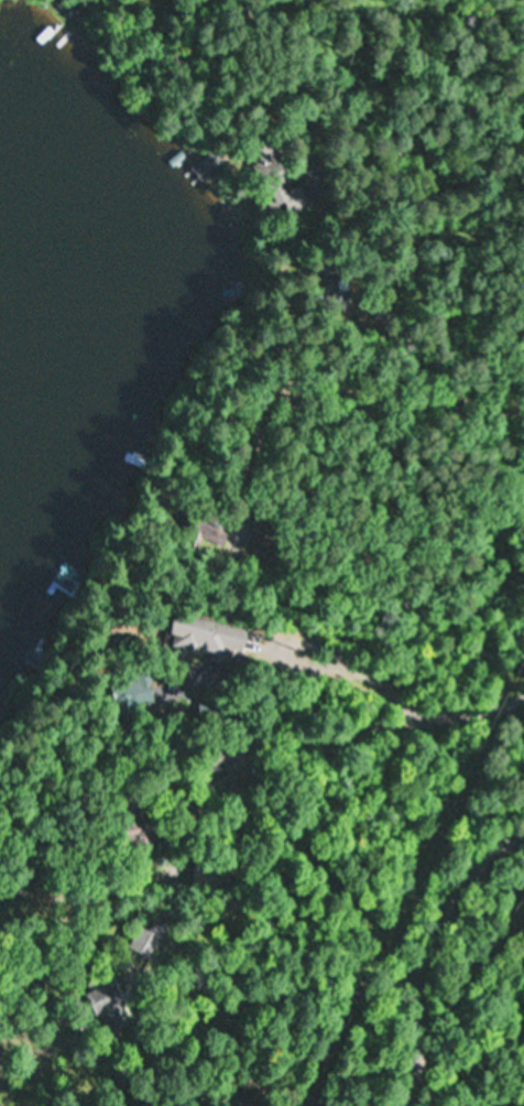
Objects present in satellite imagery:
building: (275, 171)
building: (331, 284)
building: (214, 531)
building: (254, 541)
road: (221, 592)
building: (208, 633)
building: (210, 759)
building: (134, 826)
building: (146, 939)
road: (418, 945)
building: (103, 1010)

